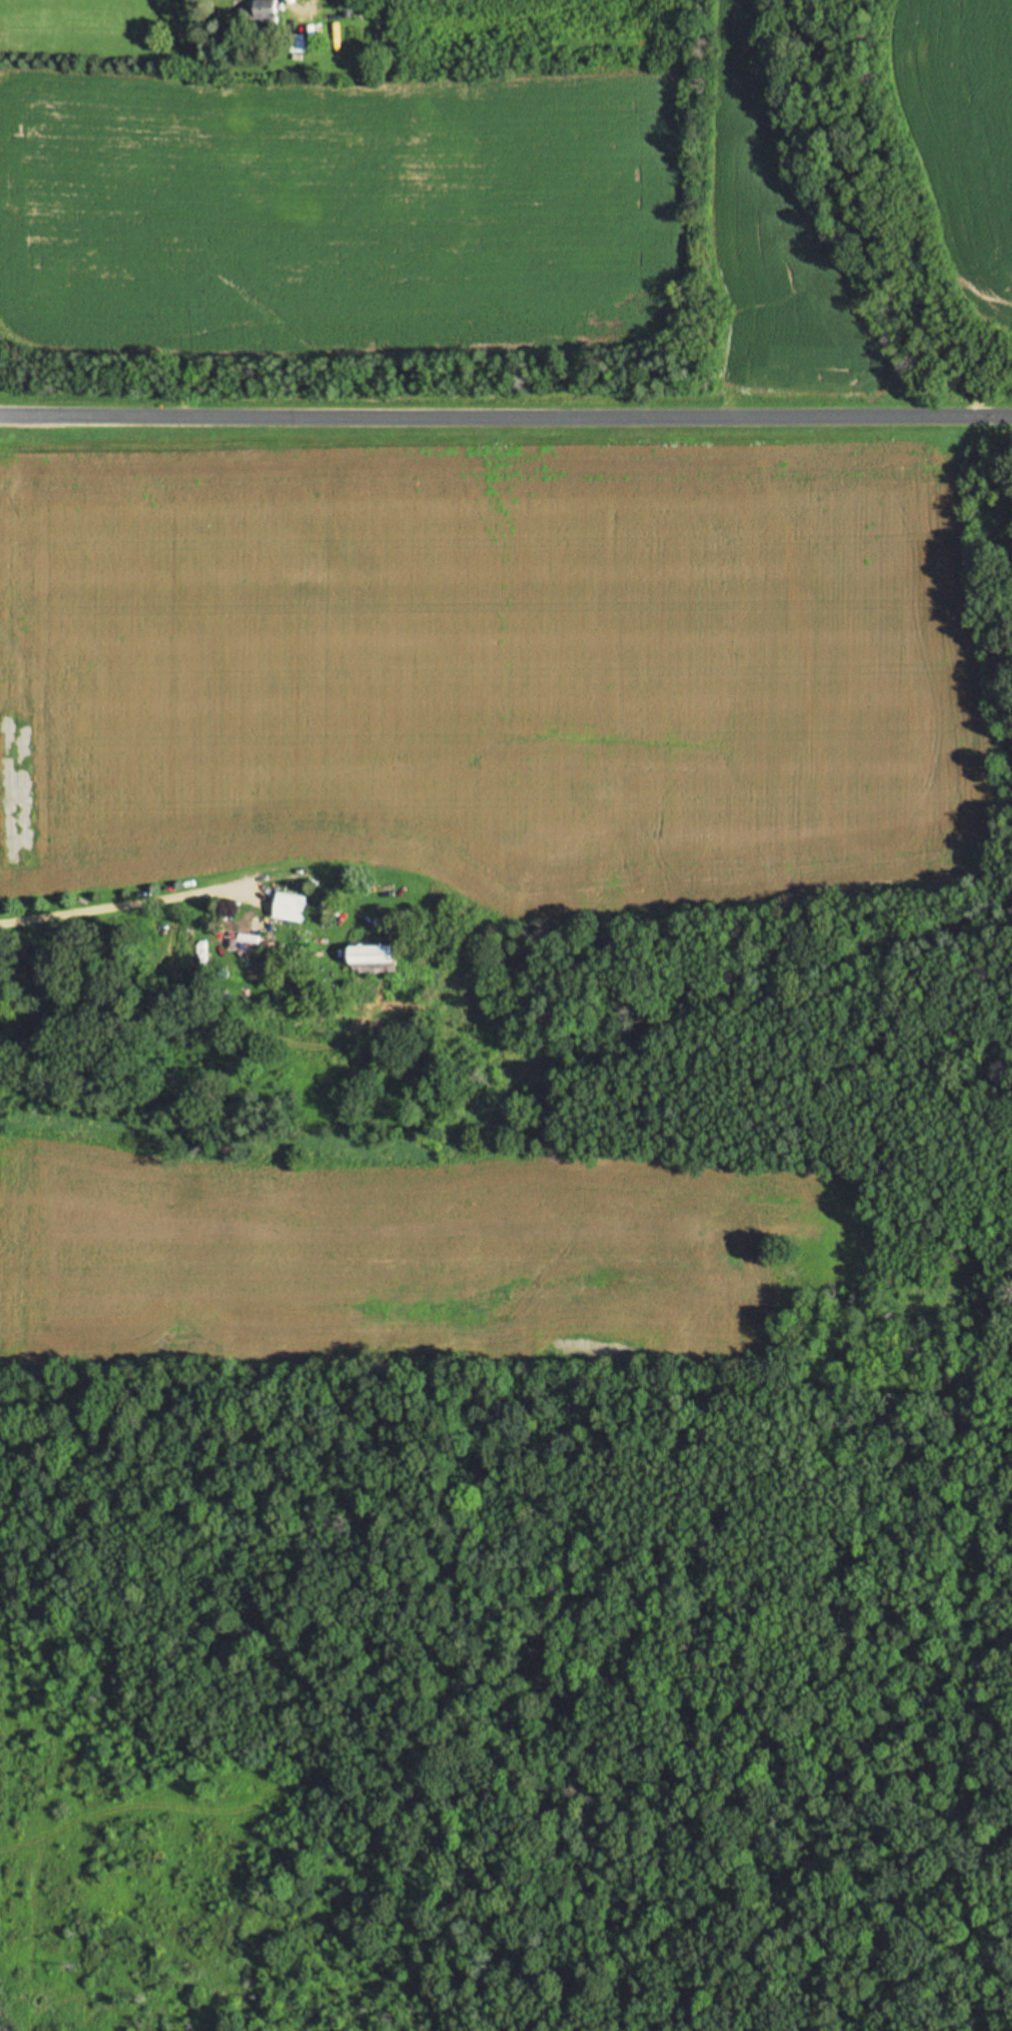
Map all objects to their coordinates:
road: (293, 9)
building: (261, 16)
building: (297, 44)
road: (506, 438)
building: (290, 909)
building: (256, 937)
building: (270, 951)
building: (372, 960)

